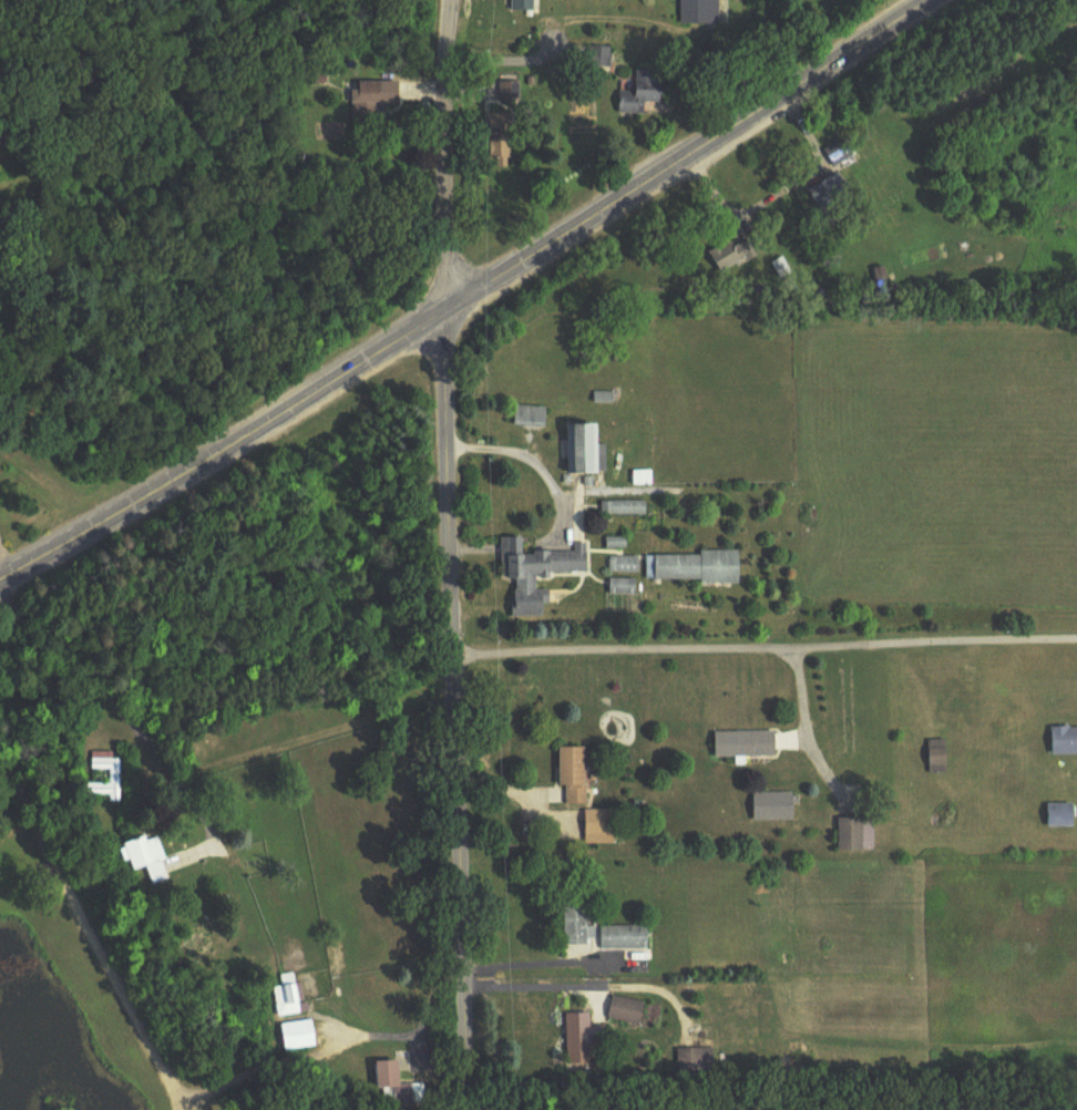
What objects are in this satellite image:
building: (523, 6)
building: (699, 11)
road: (560, 24)
building: (509, 92)
building: (643, 93)
building: (373, 100)
building: (839, 153)
building: (500, 154)
road: (776, 191)
building: (831, 196)
building: (732, 256)
road: (468, 296)
building: (531, 419)
road: (464, 446)
building: (585, 450)
road: (543, 472)
building: (643, 479)
building: (624, 510)
road: (449, 554)
road: (4, 562)
building: (623, 566)
building: (696, 568)
building: (536, 574)
building: (623, 587)
road: (765, 648)
road: (96, 685)
building: (1064, 741)
building: (745, 744)
building: (937, 757)
building: (574, 777)
building: (113, 778)
road: (521, 793)
building: (773, 806)
building: (1060, 815)
building: (599, 823)
building: (855, 835)
building: (150, 859)
building: (575, 919)
building: (624, 938)
road: (598, 970)
building: (288, 997)
building: (627, 1011)
building: (300, 1036)
building: (584, 1038)
building: (695, 1061)
building: (399, 1089)

